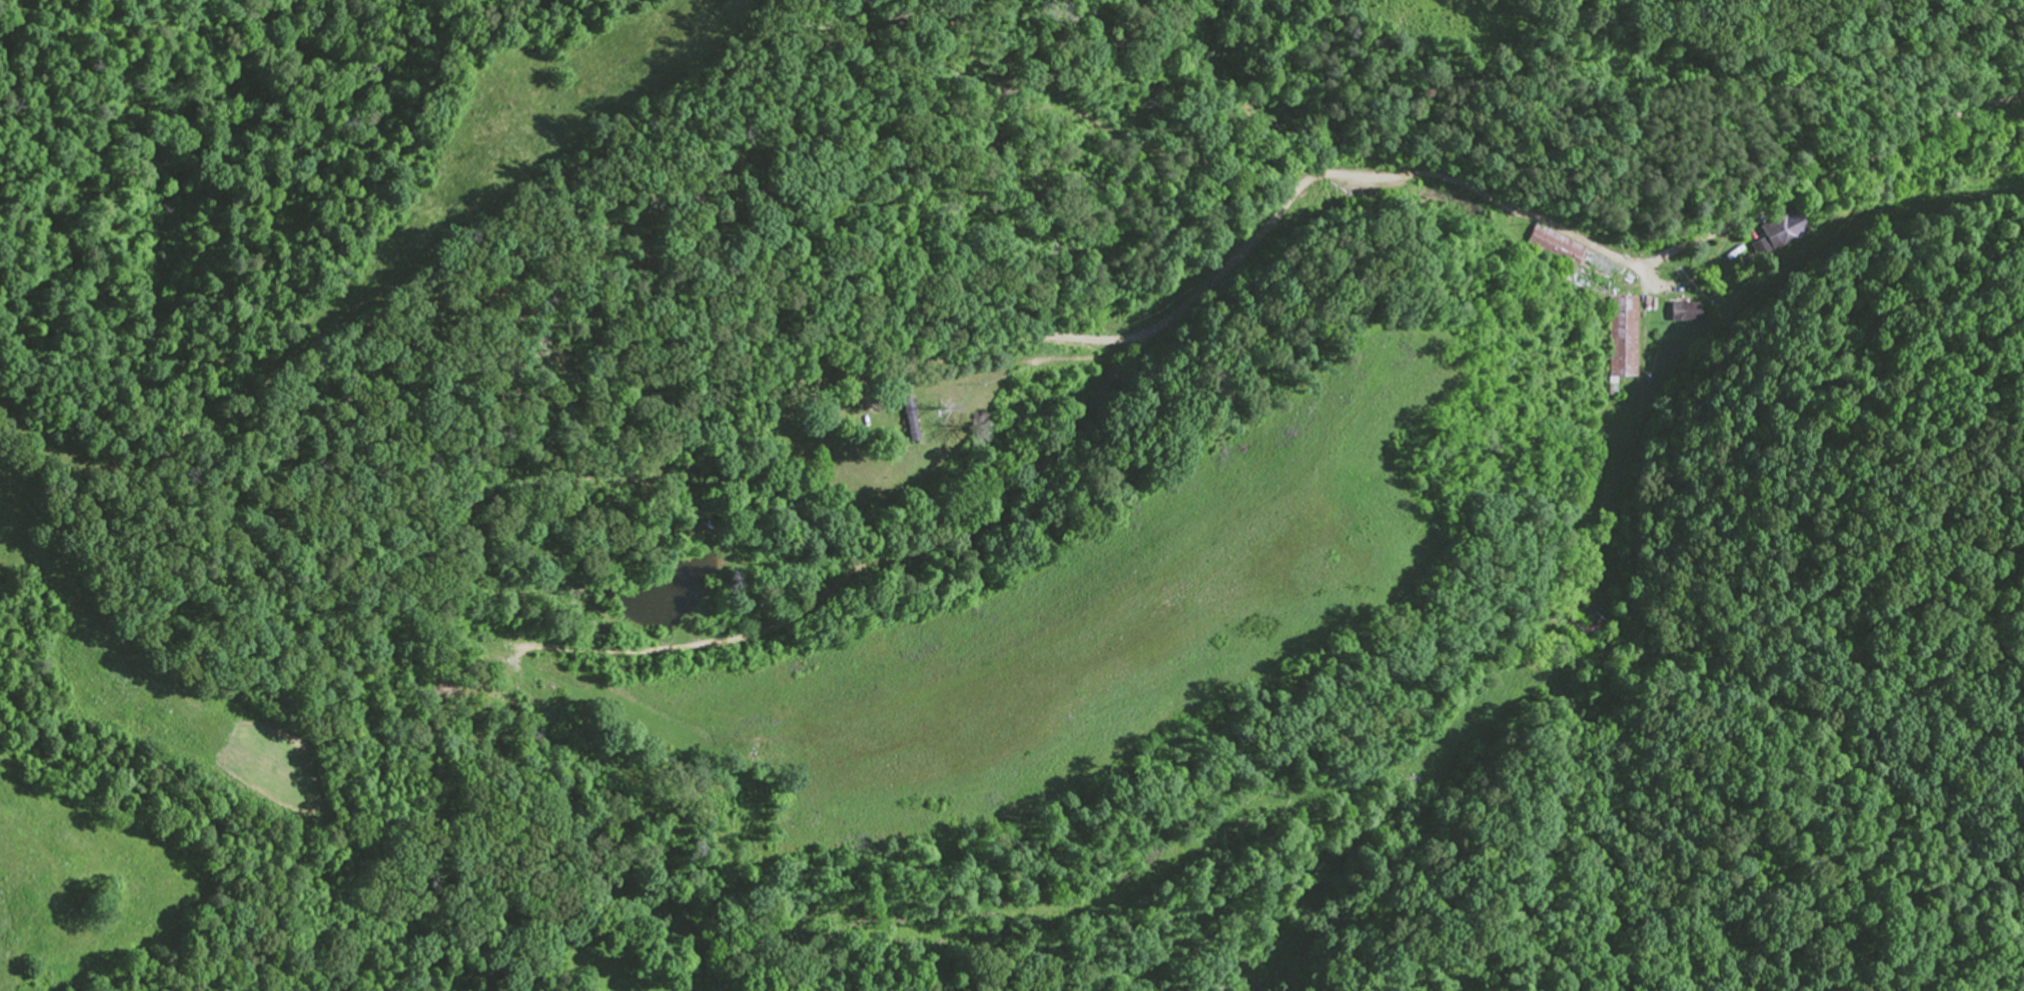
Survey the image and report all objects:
building: (1779, 233)
building: (1686, 314)
building: (1623, 339)
building: (911, 421)
building: (1583, 629)

